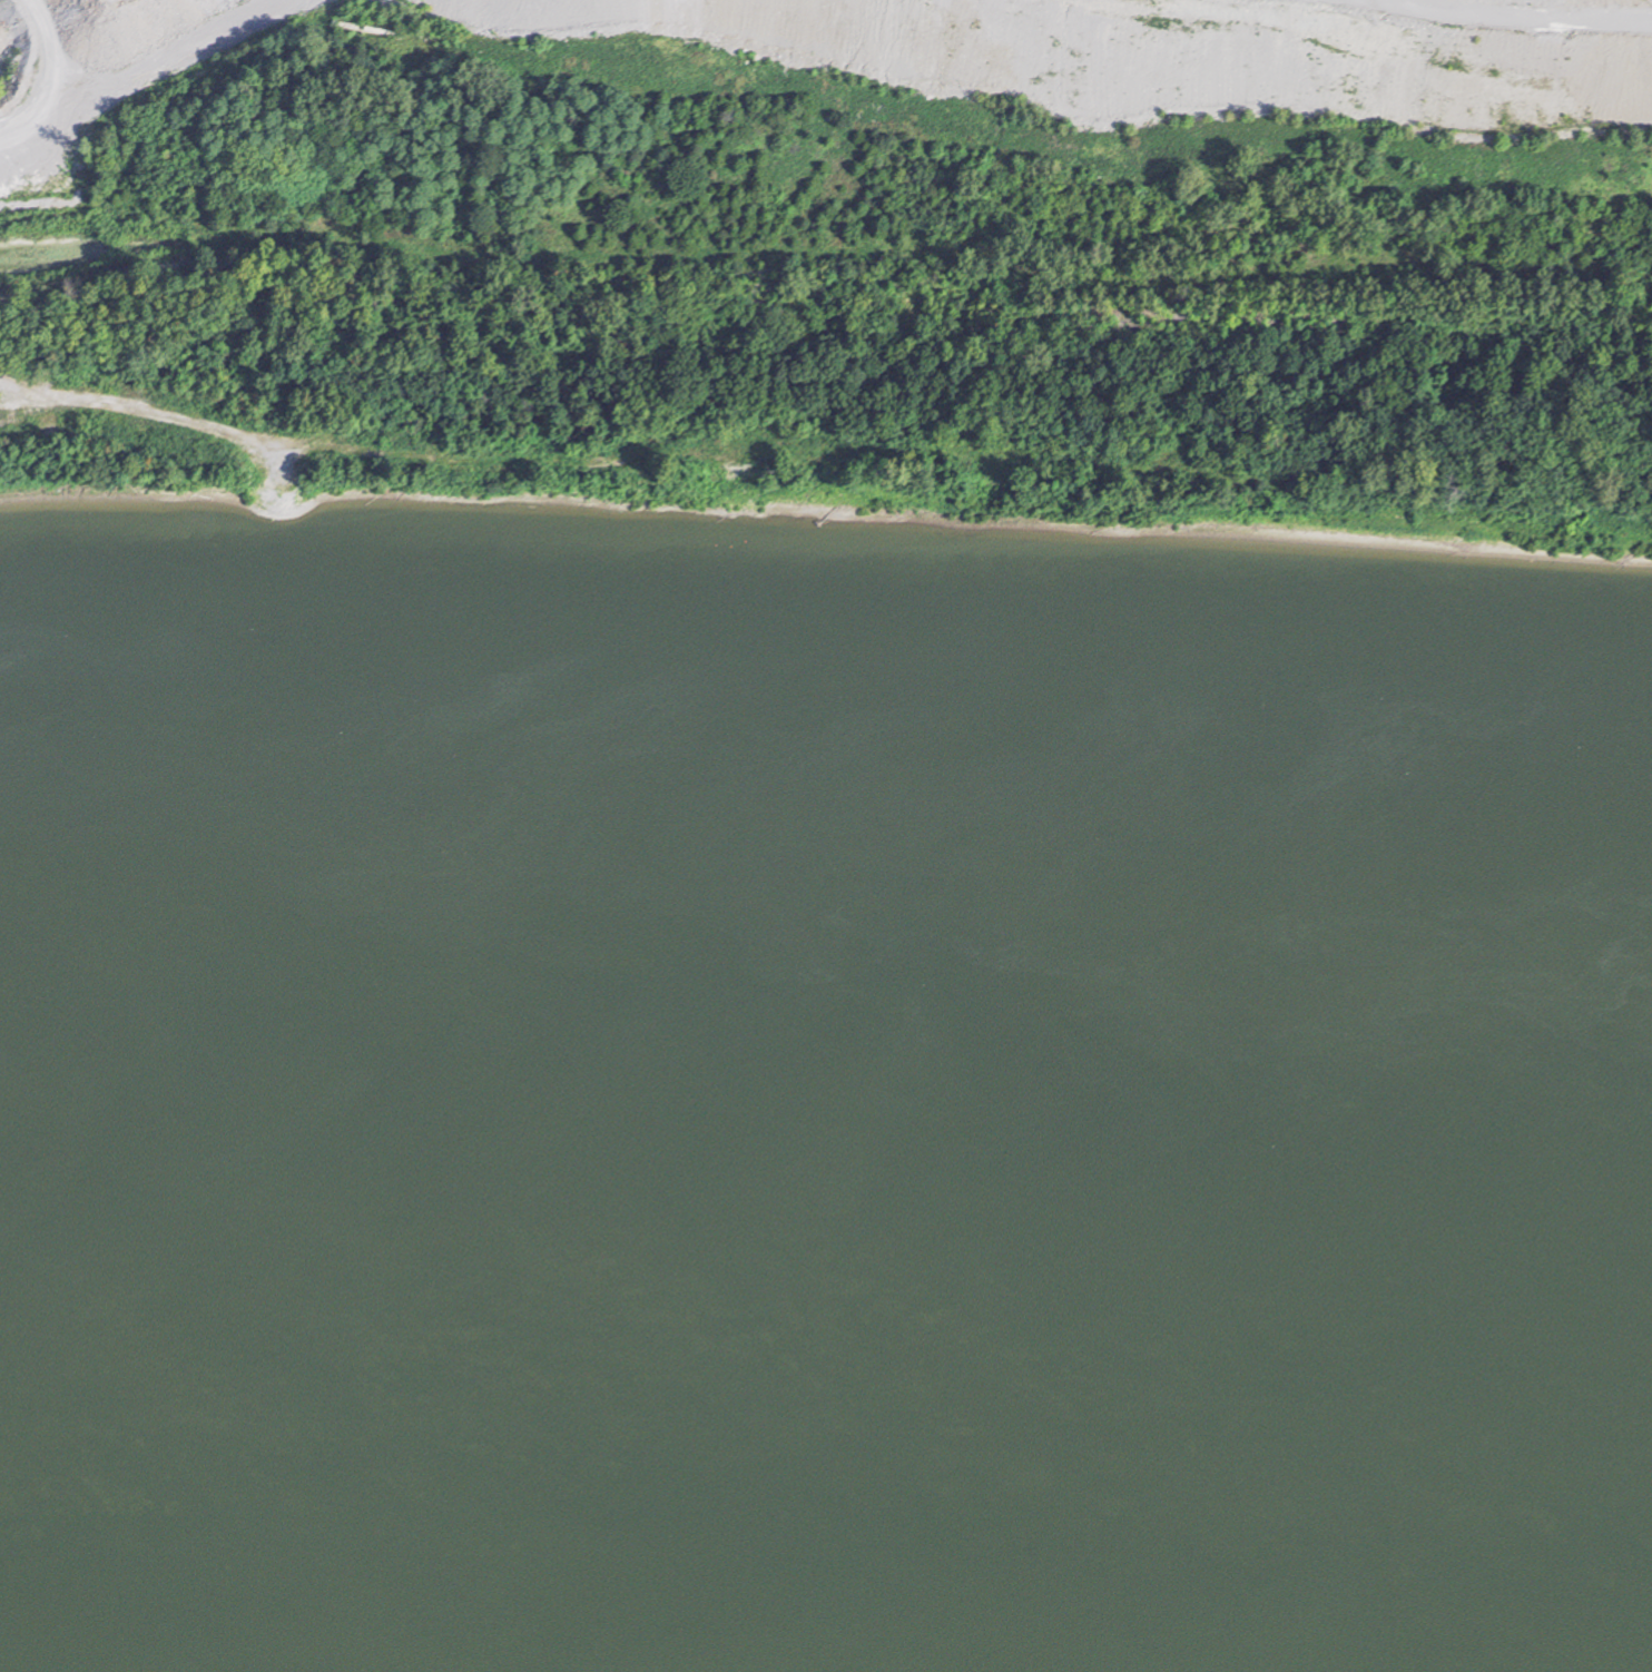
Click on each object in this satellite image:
road: (1601, 0)
quarry: (912, 67)
road: (108, 82)
road: (27, 132)
quarry: (81, 376)
river: (828, 1574)

